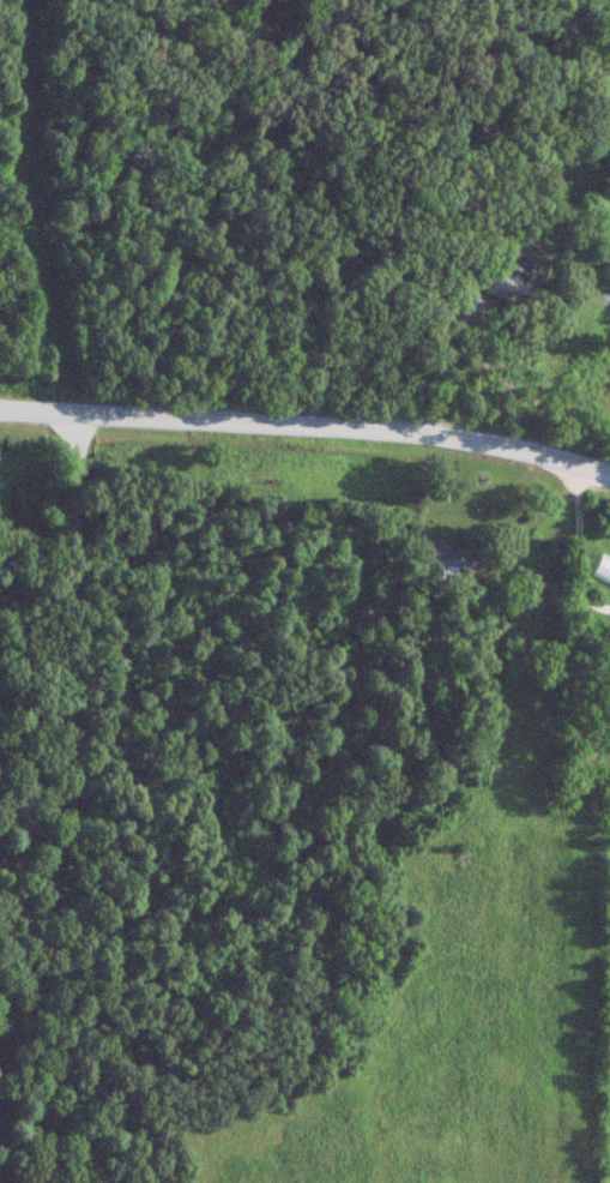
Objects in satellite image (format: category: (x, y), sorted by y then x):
building: (489, 280)
road: (490, 373)
road: (309, 398)
road: (568, 523)
building: (445, 560)
road: (585, 601)
road: (573, 630)
road: (206, 749)

